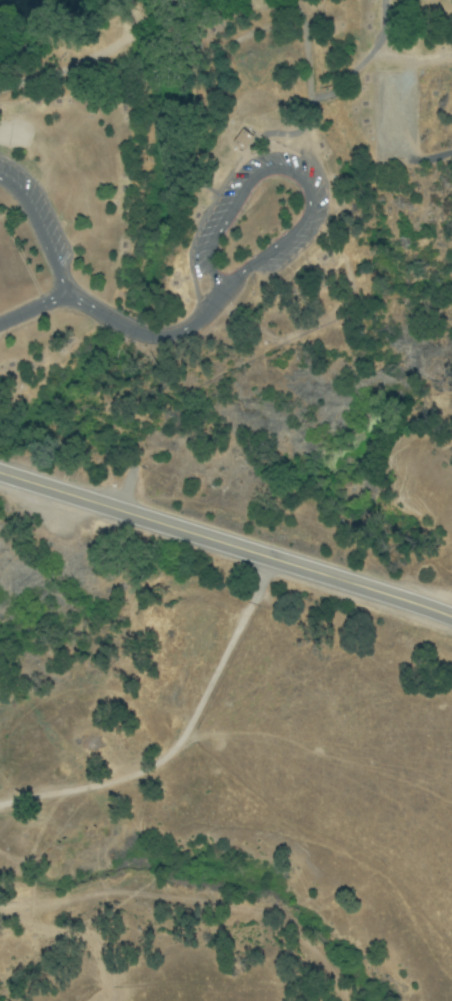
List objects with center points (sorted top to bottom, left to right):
river: (42, 6)
building: (241, 141)
road: (290, 175)
parking lot: (259, 219)
parking lot: (28, 233)
road: (39, 236)
park: (236, 261)
road: (118, 322)
road: (226, 543)
road: (182, 737)

